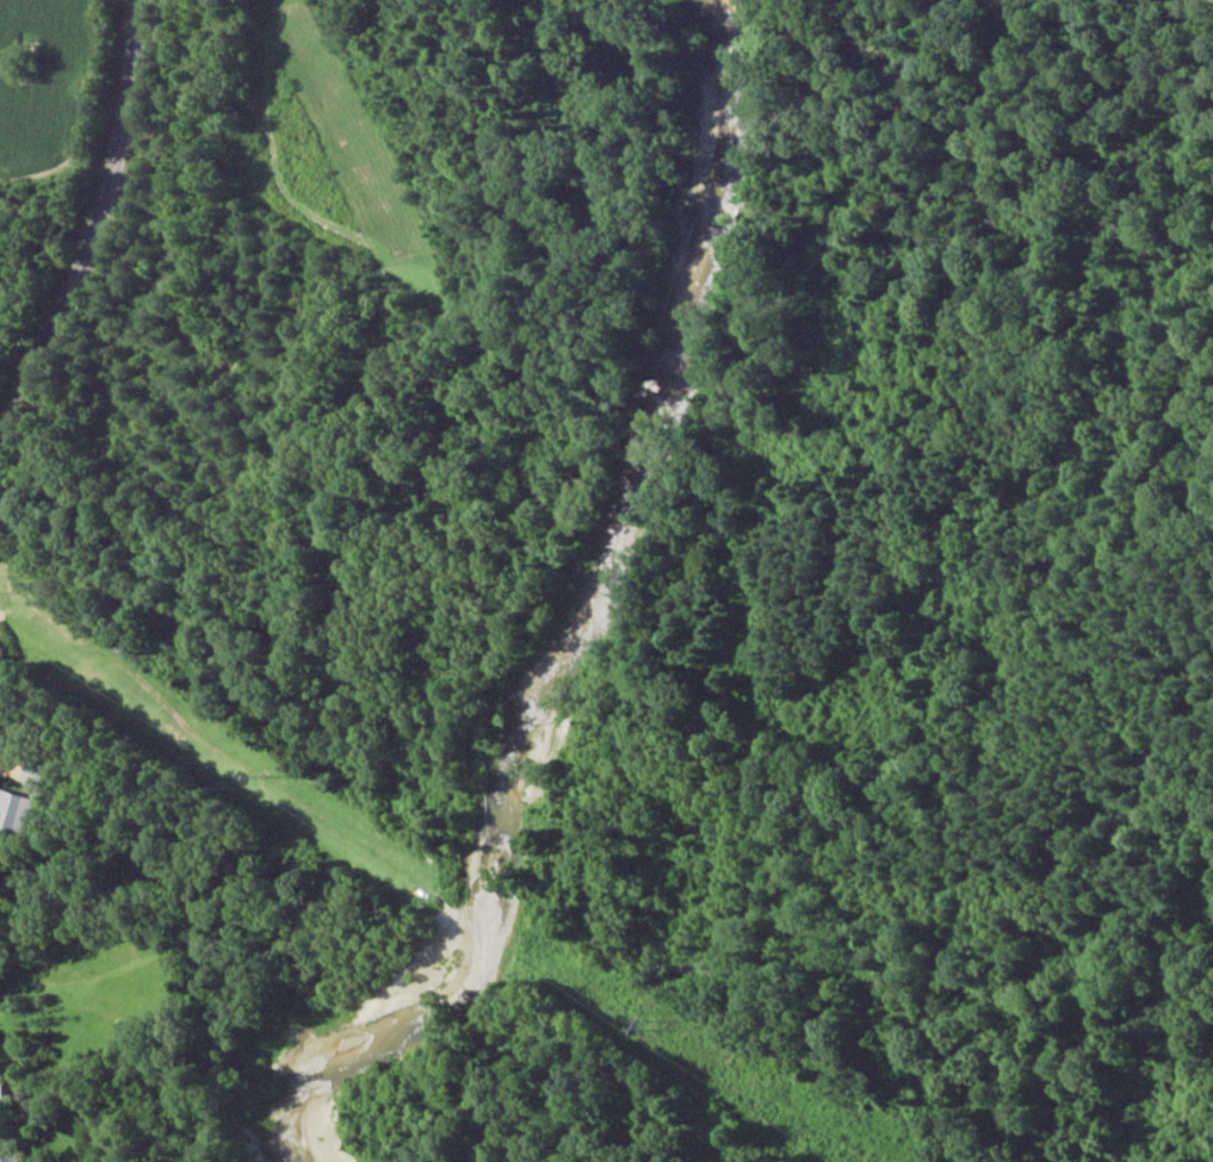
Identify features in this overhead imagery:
road: (99, 299)
building: (24, 806)
building: (13, 1157)

